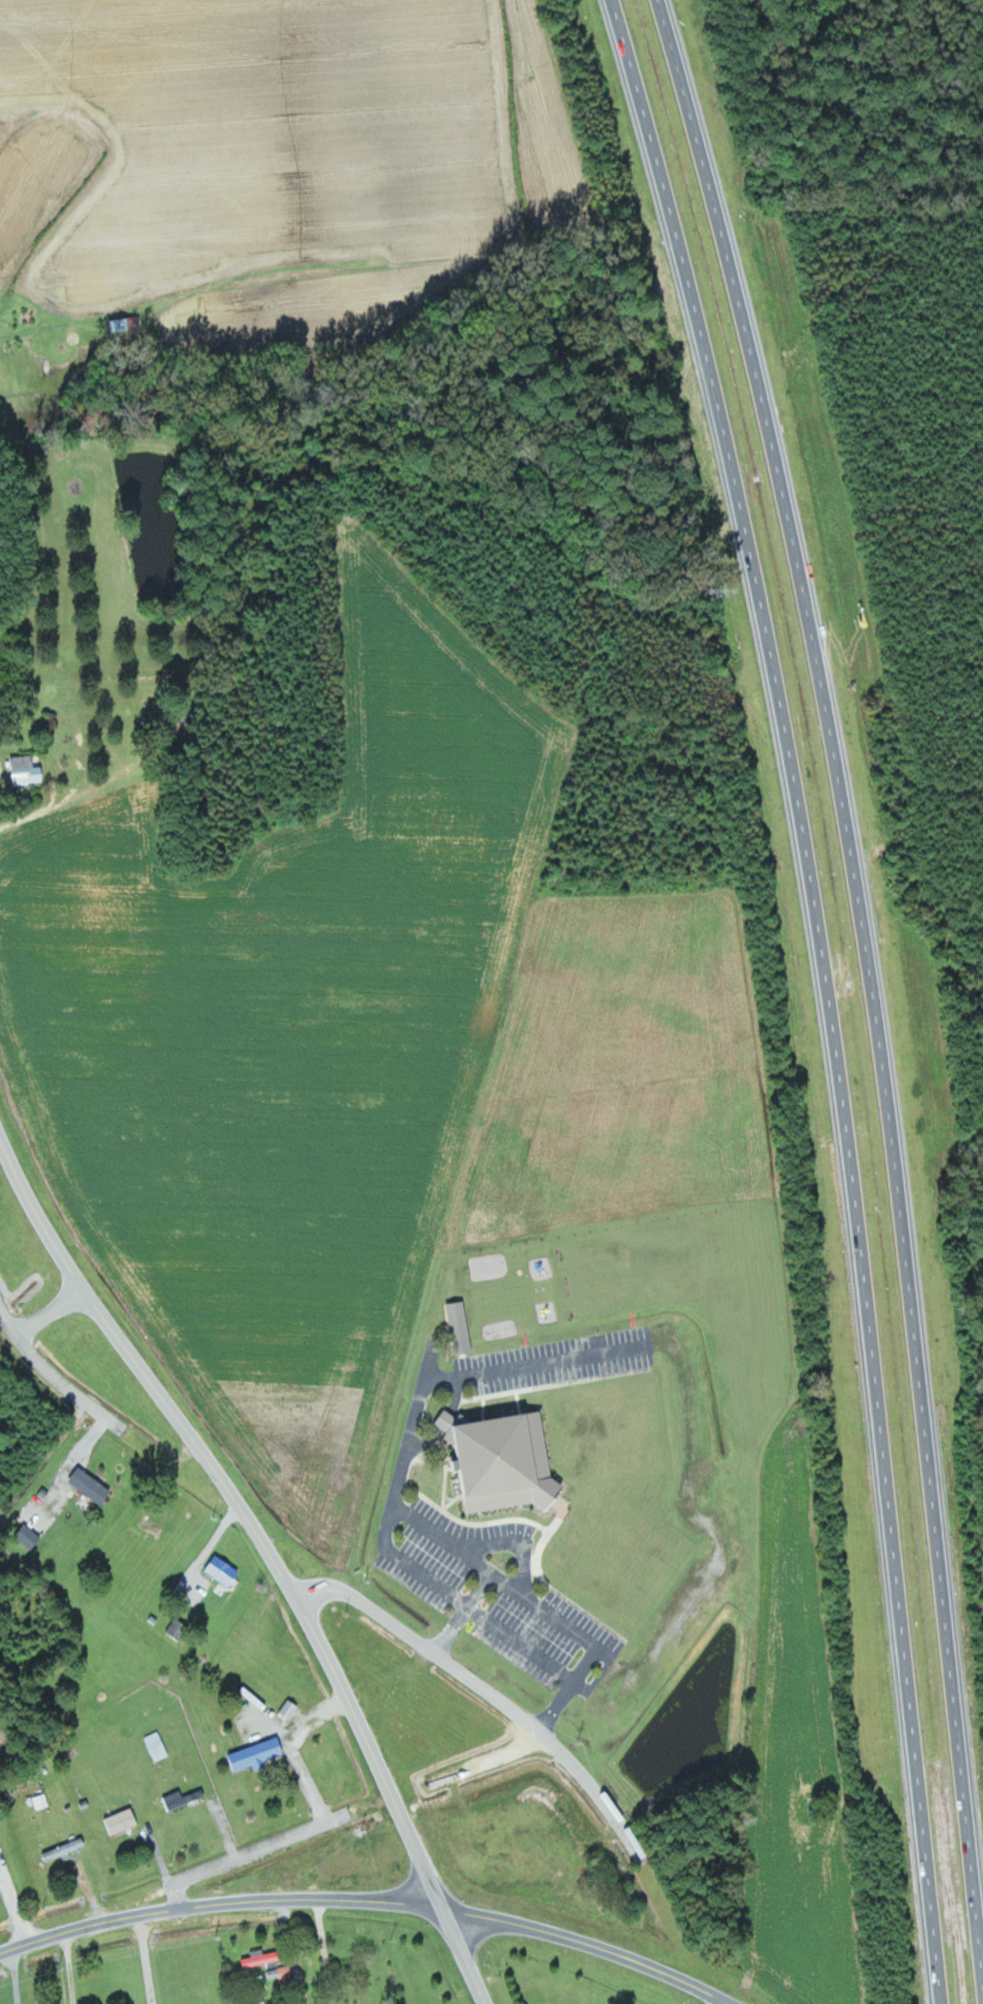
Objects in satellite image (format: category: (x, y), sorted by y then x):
building: (27, 770)
road: (876, 992)
road: (828, 993)
road: (50, 1312)
building: (461, 1327)
road: (53, 1374)
building: (505, 1461)
building: (92, 1486)
road: (240, 1510)
building: (29, 1536)
building: (223, 1570)
building: (178, 1629)
road: (485, 1692)
road: (293, 1748)
building: (257, 1754)
building: (42, 1801)
building: (122, 1820)
building: (65, 1849)
road: (250, 1851)
building: (0, 1884)
road: (289, 1898)
road: (69, 1931)
road: (585, 1942)
road: (461, 1956)
road: (146, 1959)
building: (270, 1963)
road: (69, 1968)
road: (15, 1976)
road: (725, 2002)
road: (728, 2002)

